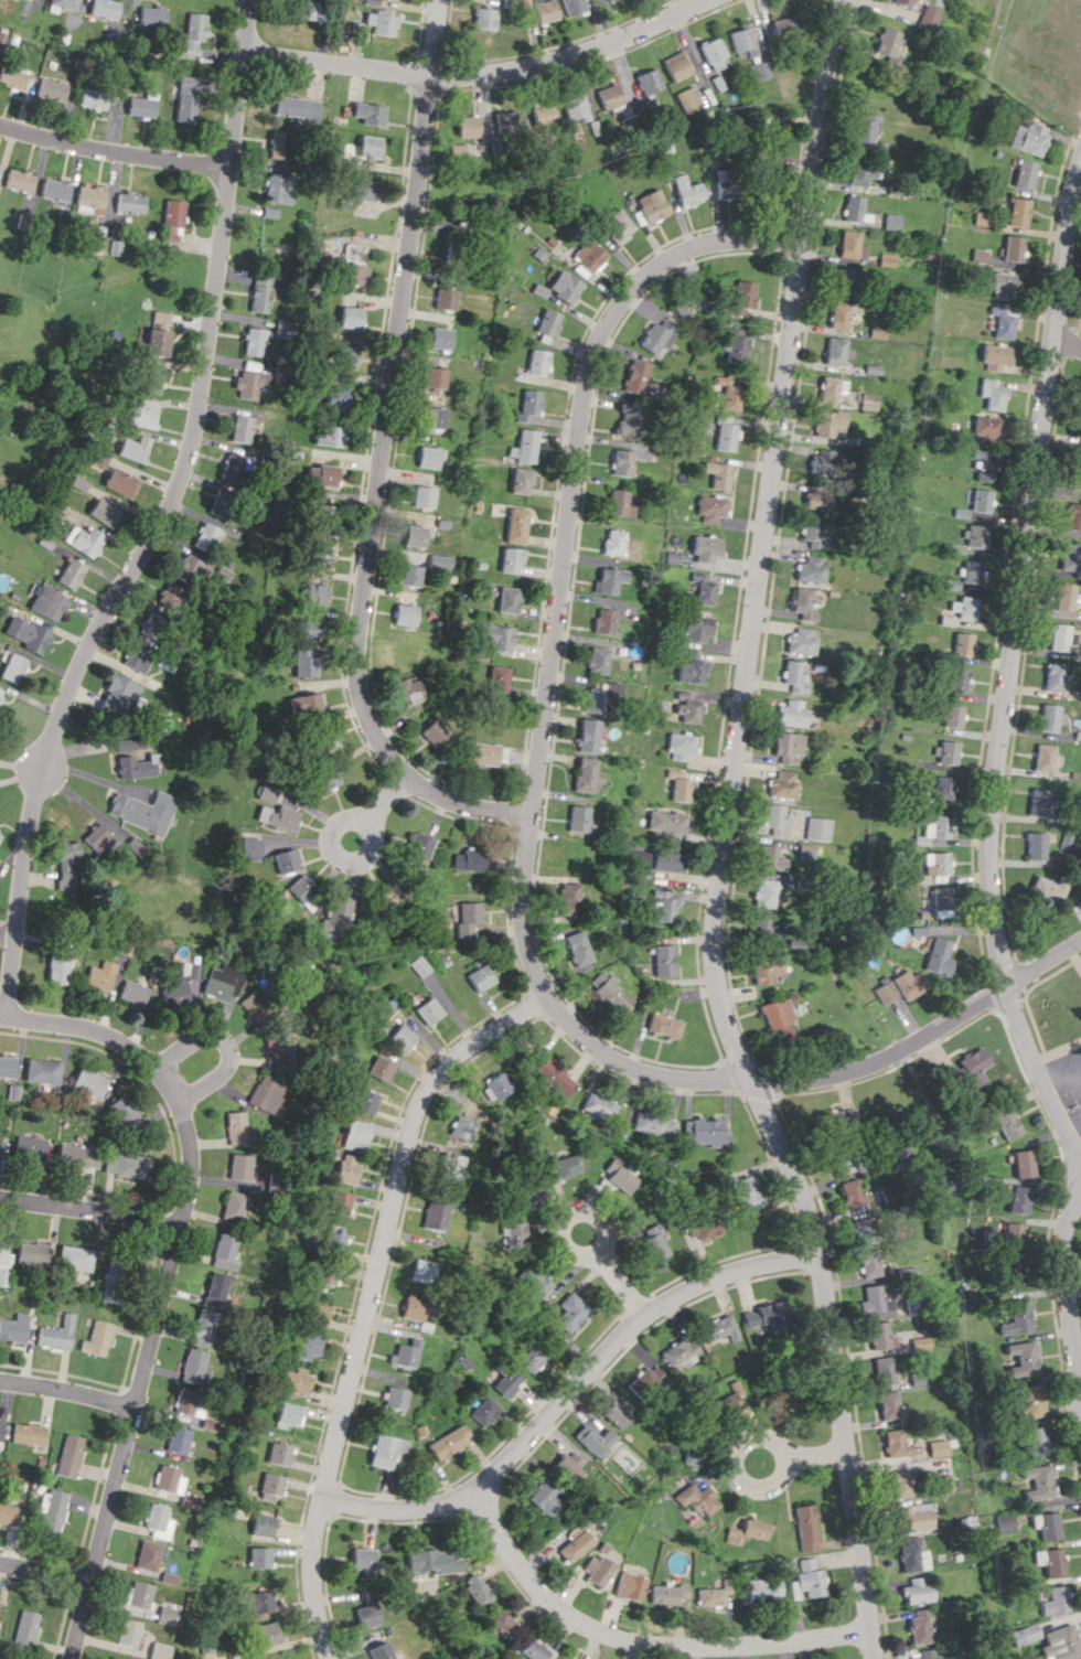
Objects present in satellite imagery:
building: (32, 0)
building: (902, 2)
building: (65, 3)
building: (572, 6)
building: (105, 8)
building: (314, 10)
building: (545, 11)
building: (153, 15)
building: (928, 17)
building: (483, 18)
building: (382, 23)
building: (783, 28)
building: (194, 33)
road: (435, 39)
building: (742, 41)
building: (885, 41)
building: (713, 53)
building: (676, 65)
building: (759, 69)
road: (482, 74)
building: (12, 77)
building: (647, 81)
building: (52, 88)
building: (608, 95)
building: (93, 98)
building: (186, 99)
building: (687, 99)
building: (142, 105)
building: (296, 107)
building: (574, 108)
building: (368, 113)
building: (542, 114)
building: (505, 121)
building: (467, 126)
building: (864, 130)
building: (1027, 137)
building: (279, 145)
building: (361, 149)
road: (114, 153)
building: (0, 167)
building: (859, 171)
building: (1024, 173)
building: (19, 180)
building: (723, 185)
building: (277, 188)
building: (55, 189)
building: (363, 189)
building: (686, 191)
building: (89, 199)
building: (129, 203)
building: (652, 205)
building: (853, 207)
building: (1016, 212)
building: (978, 218)
building: (171, 220)
building: (890, 221)
building: (618, 226)
building: (847, 244)
building: (95, 245)
building: (1012, 248)
building: (354, 253)
building: (451, 254)
building: (589, 255)
building: (885, 259)
building: (356, 274)
building: (843, 280)
building: (565, 286)
building: (1003, 286)
building: (260, 291)
building: (742, 297)
building: (445, 298)
building: (691, 306)
building: (350, 317)
building: (837, 317)
building: (549, 322)
building: (1000, 322)
building: (283, 330)
building: (152, 335)
building: (657, 336)
building: (440, 338)
road: (1067, 339)
building: (253, 341)
building: (738, 344)
building: (834, 351)
building: (344, 356)
building: (993, 357)
building: (538, 362)
building: (635, 376)
building: (435, 377)
building: (151, 378)
building: (249, 383)
building: (830, 388)
building: (729, 393)
building: (989, 393)
building: (339, 396)
building: (866, 402)
building: (531, 405)
building: (140, 414)
building: (434, 417)
building: (629, 419)
building: (826, 421)
building: (240, 428)
building: (984, 428)
building: (725, 434)
building: (330, 436)
building: (525, 446)
building: (133, 448)
building: (430, 457)
building: (821, 461)
building: (623, 462)
building: (983, 465)
building: (231, 467)
building: (1078, 473)
building: (321, 474)
building: (718, 474)
building: (522, 480)
building: (119, 482)
building: (77, 483)
building: (424, 496)
road: (374, 497)
building: (816, 500)
building: (977, 500)
building: (221, 503)
building: (620, 503)
building: (711, 509)
building: (101, 512)
building: (325, 515)
building: (1073, 516)
road: (160, 517)
building: (517, 525)
building: (812, 533)
building: (415, 535)
building: (973, 535)
building: (205, 537)
building: (83, 539)
building: (613, 542)
road: (564, 548)
building: (706, 548)
building: (320, 554)
building: (1069, 557)
building: (511, 559)
building: (440, 561)
building: (193, 566)
building: (810, 568)
building: (970, 571)
building: (68, 574)
building: (409, 575)
building: (609, 580)
building: (703, 588)
building: (314, 593)
building: (172, 596)
building: (1063, 597)
building: (507, 599)
building: (46, 602)
building: (802, 603)
building: (963, 607)
building: (405, 614)
building: (603, 621)
building: (151, 625)
building: (696, 627)
building: (306, 629)
building: (26, 633)
building: (409, 636)
building: (494, 636)
building: (1061, 638)
building: (800, 641)
building: (961, 643)
building: (409, 656)
building: (136, 659)
building: (597, 660)
building: (302, 661)
road: (1013, 663)
building: (12, 667)
building: (691, 667)
building: (793, 675)
building: (1053, 677)
building: (497, 678)
building: (957, 678)
building: (0, 691)
building: (408, 691)
building: (119, 695)
building: (602, 697)
building: (303, 705)
building: (687, 706)
building: (791, 713)
building: (952, 715)
building: (1049, 717)
building: (434, 731)
building: (321, 735)
building: (588, 735)
building: (129, 742)
building: (681, 746)
building: (786, 747)
building: (944, 751)
building: (482, 753)
building: (1043, 757)
building: (135, 767)
building: (586, 773)
building: (324, 779)
building: (782, 783)
building: (679, 784)
building: (942, 788)
building: (266, 792)
building: (1039, 801)
road: (383, 802)
building: (143, 811)
building: (277, 816)
building: (577, 817)
building: (773, 820)
building: (671, 824)
road: (364, 827)
building: (816, 828)
building: (932, 828)
building: (0, 833)
road: (724, 836)
building: (97, 837)
building: (418, 845)
building: (1036, 845)
building: (248, 847)
building: (770, 857)
building: (469, 859)
building: (283, 860)
building: (666, 860)
building: (935, 863)
building: (66, 864)
building: (1047, 889)
building: (303, 892)
building: (763, 892)
building: (568, 898)
building: (940, 898)
building: (663, 905)
building: (334, 914)
building: (470, 920)
building: (761, 925)
building: (577, 948)
building: (938, 956)
building: (663, 960)
road: (1043, 961)
building: (419, 965)
building: (56, 968)
building: (766, 968)
building: (99, 975)
building: (480, 977)
building: (224, 981)
building: (907, 984)
building: (181, 985)
building: (608, 991)
building: (882, 992)
building: (132, 993)
building: (255, 1006)
building: (428, 1010)
building: (775, 1013)
building: (663, 1025)
road: (93, 1030)
building: (400, 1037)
road: (227, 1045)
building: (276, 1051)
building: (7, 1066)
building: (971, 1067)
building: (378, 1068)
building: (42, 1071)
building: (552, 1077)
road: (1060, 1078)
road: (773, 1080)
building: (88, 1082)
building: (496, 1084)
building: (267, 1092)
building: (364, 1101)
building: (598, 1106)
building: (125, 1113)
building: (836, 1119)
building: (652, 1124)
building: (1006, 1124)
building: (236, 1127)
building: (460, 1127)
building: (705, 1132)
building: (354, 1134)
building: (28, 1147)
building: (896, 1155)
building: (76, 1156)
building: (844, 1163)
building: (1023, 1163)
building: (564, 1164)
building: (127, 1165)
building: (240, 1166)
building: (346, 1168)
building: (448, 1168)
building: (618, 1177)
building: (850, 1192)
building: (526, 1194)
building: (745, 1194)
building: (1018, 1199)
building: (339, 1201)
building: (234, 1206)
road: (89, 1213)
building: (434, 1213)
building: (704, 1227)
building: (860, 1229)
building: (512, 1232)
road: (565, 1235)
building: (1010, 1235)
building: (333, 1241)
building: (653, 1241)
building: (225, 1252)
building: (32, 1253)
building: (75, 1257)
building: (4, 1263)
building: (867, 1263)
building: (420, 1270)
building: (114, 1277)
building: (324, 1277)
road: (620, 1280)
building: (1010, 1280)
building: (217, 1291)
road: (1068, 1294)
road: (370, 1299)
building: (873, 1299)
building: (910, 1304)
building: (413, 1308)
building: (317, 1313)
building: (569, 1314)
building: (766, 1315)
building: (1017, 1316)
building: (205, 1327)
building: (14, 1328)
building: (718, 1328)
building: (57, 1334)
building: (878, 1336)
building: (97, 1338)
road: (621, 1339)
building: (918, 1341)
building: (308, 1346)
building: (406, 1352)
building: (678, 1352)
building: (532, 1357)
building: (1019, 1358)
building: (194, 1366)
building: (881, 1370)
road: (142, 1371)
building: (645, 1379)
building: (917, 1379)
building: (295, 1381)
building: (506, 1382)
road: (67, 1392)
building: (396, 1398)
building: (186, 1400)
building: (1029, 1401)
building: (886, 1405)
building: (483, 1411)
building: (617, 1411)
building: (290, 1413)
building: (1, 1433)
building: (30, 1433)
building: (179, 1439)
building: (593, 1439)
building: (449, 1441)
building: (891, 1443)
building: (1035, 1443)
building: (934, 1447)
building: (387, 1451)
road: (815, 1453)
building: (280, 1454)
building: (71, 1455)
building: (692, 1455)
road: (734, 1464)
building: (568, 1465)
building: (169, 1479)
building: (1037, 1481)
building: (941, 1483)
building: (274, 1484)
building: (897, 1484)
building: (544, 1497)
building: (697, 1498)
building: (189, 1499)
building: (54, 1509)
building: (9, 1513)
building: (911, 1517)
building: (158, 1520)
building: (1003, 1522)
building: (1043, 1524)
building: (264, 1526)
building: (805, 1527)
building: (747, 1530)
building: (575, 1542)
building: (910, 1554)
building: (148, 1555)
building: (260, 1556)
building: (362, 1558)
building: (432, 1561)
building: (1048, 1561)
building: (597, 1569)
road: (44, 1574)
building: (806, 1580)
building: (630, 1585)
building: (475, 1590)
building: (759, 1590)
building: (916, 1590)
building: (139, 1594)
building: (667, 1594)
building: (710, 1596)
building: (1053, 1601)
building: (259, 1602)
building: (0, 1606)
building: (167, 1615)
building: (366, 1616)
road: (570, 1618)
building: (502, 1623)
building: (917, 1625)
building: (28, 1628)
building: (128, 1631)
building: (267, 1634)
building: (1024, 1634)
building: (1060, 1642)
building: (533, 1649)
building: (158, 1650)
building: (208, 1650)
building: (382, 1651)
building: (925, 1655)
building: (114, 1658)
building: (560, 1658)

